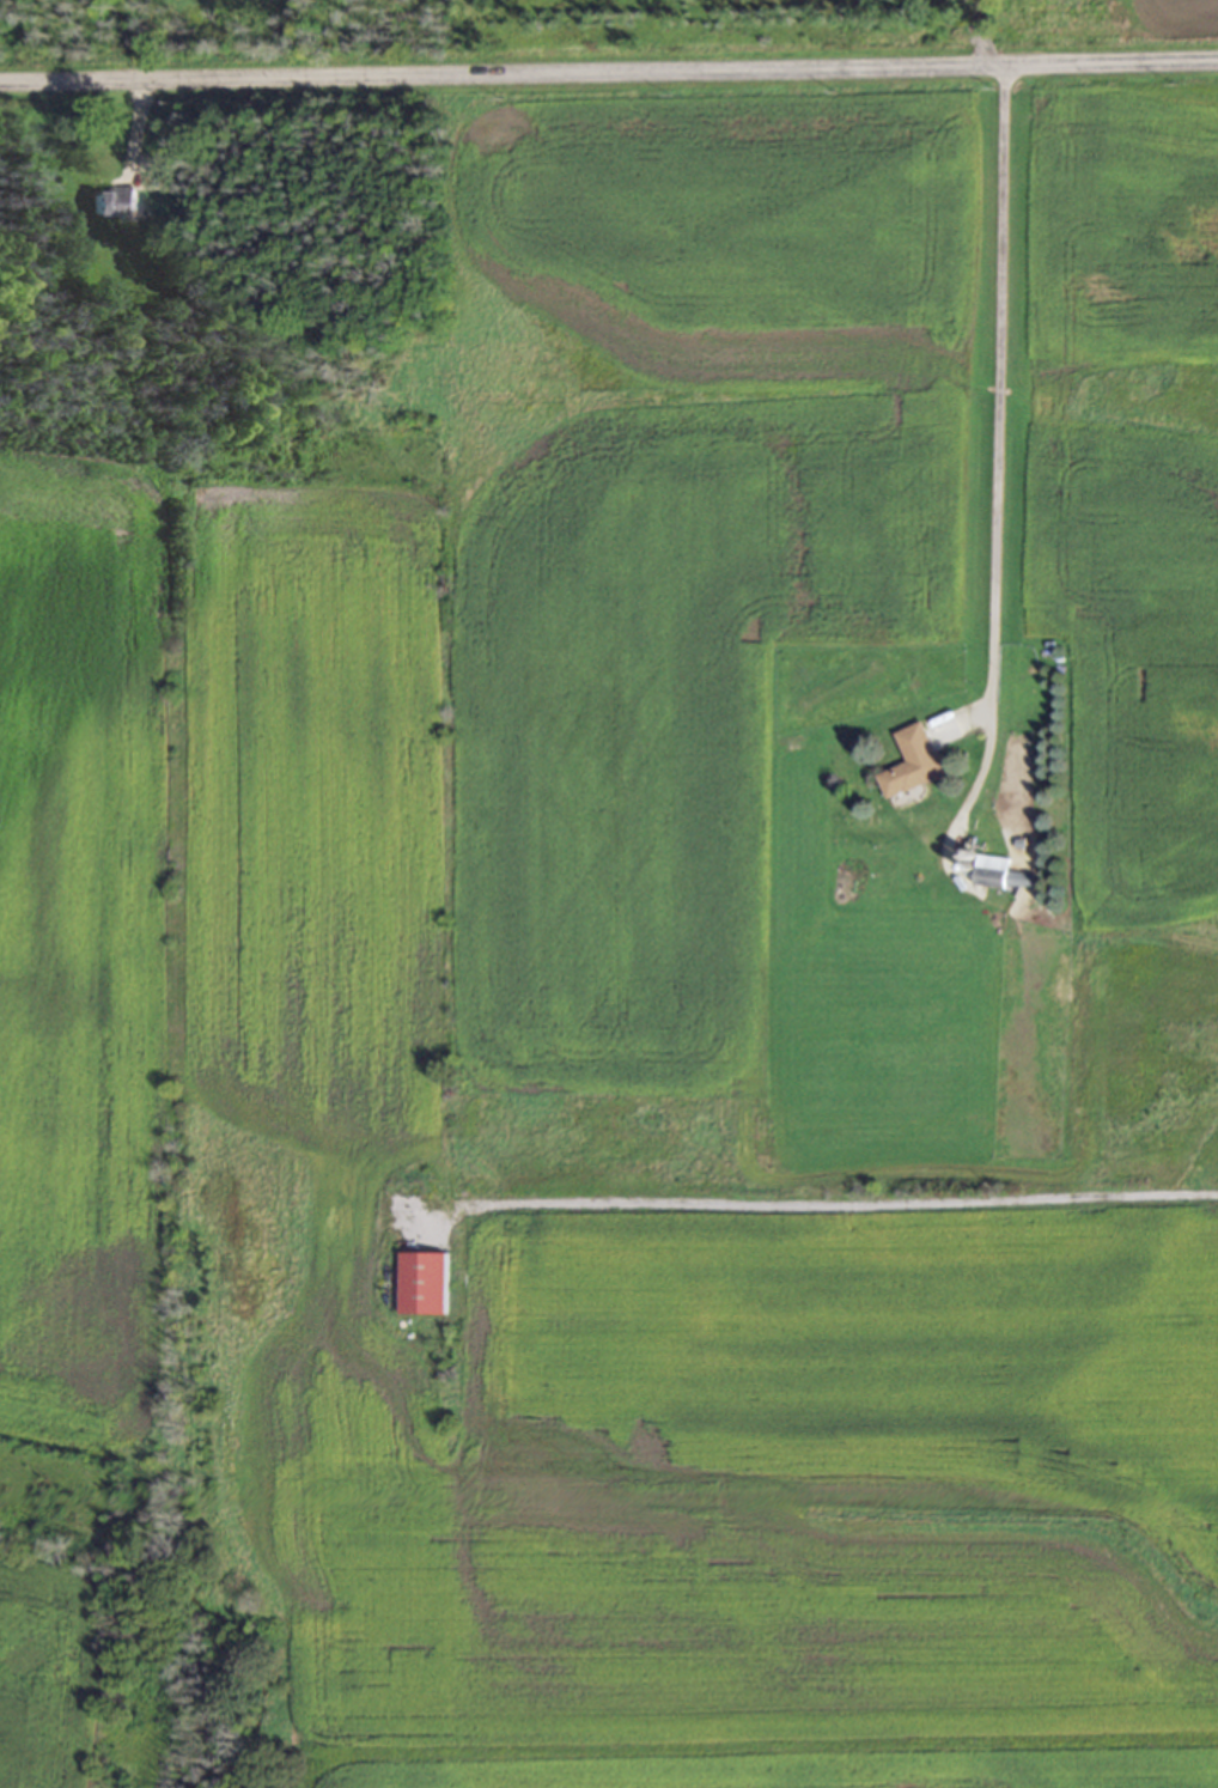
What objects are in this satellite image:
road: (978, 30)
road: (609, 71)
building: (109, 201)
road: (992, 485)
building: (909, 760)
building: (994, 872)
road: (811, 1203)
building: (421, 1281)

